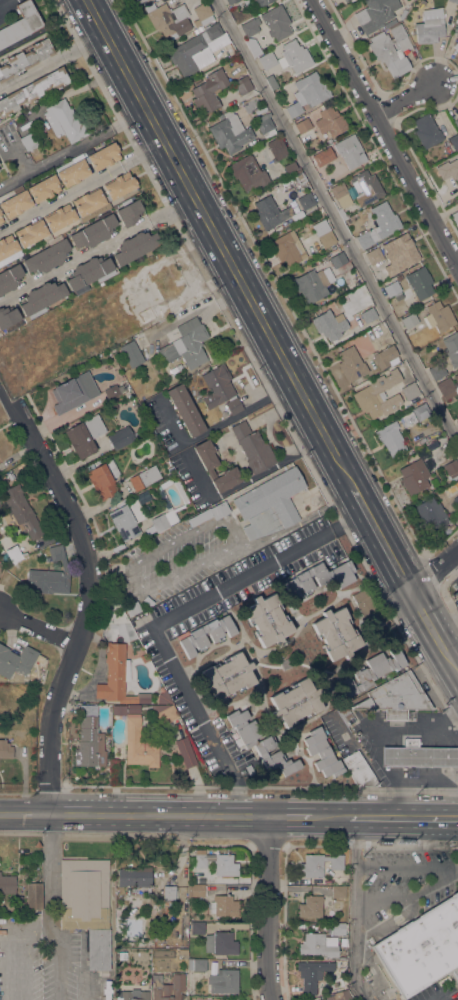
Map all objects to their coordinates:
building: (253, 0)
building: (139, 1)
building: (230, 1)
building: (346, 1)
building: (454, 1)
building: (262, 2)
road: (4, 3)
building: (201, 12)
building: (375, 14)
building: (240, 15)
building: (401, 16)
building: (169, 20)
building: (276, 22)
building: (21, 23)
building: (389, 23)
building: (429, 29)
building: (247, 38)
road: (81, 45)
building: (456, 45)
building: (197, 49)
building: (391, 50)
building: (294, 56)
building: (25, 58)
building: (267, 60)
road: (30, 73)
building: (271, 82)
building: (242, 85)
building: (209, 90)
building: (32, 91)
building: (307, 92)
road: (406, 101)
building: (260, 109)
building: (64, 121)
building: (330, 121)
building: (456, 122)
building: (264, 125)
building: (302, 125)
building: (426, 131)
road: (384, 132)
building: (229, 133)
building: (28, 141)
building: (454, 141)
road: (71, 147)
building: (277, 148)
building: (349, 150)
building: (103, 156)
building: (320, 158)
building: (289, 167)
building: (448, 169)
building: (72, 171)
building: (248, 173)
building: (297, 176)
building: (44, 188)
building: (365, 188)
road: (82, 189)
building: (340, 197)
building: (306, 201)
building: (15, 202)
building: (128, 212)
building: (270, 212)
building: (0, 214)
building: (64, 216)
building: (455, 217)
building: (1, 219)
road: (336, 221)
building: (379, 225)
building: (93, 232)
building: (324, 234)
road: (218, 243)
building: (134, 247)
building: (288, 248)
road: (95, 249)
building: (399, 254)
building: (374, 256)
building: (47, 257)
building: (337, 259)
building: (89, 273)
building: (399, 277)
building: (9, 278)
building: (419, 282)
building: (312, 283)
building: (161, 284)
building: (391, 288)
building: (363, 290)
building: (40, 299)
building: (146, 314)
building: (367, 315)
building: (438, 316)
building: (8, 318)
building: (409, 321)
building: (329, 325)
building: (186, 344)
building: (451, 348)
building: (131, 354)
building: (384, 356)
building: (350, 364)
building: (436, 371)
building: (456, 378)
building: (220, 389)
building: (445, 389)
building: (409, 391)
building: (111, 392)
building: (70, 395)
building: (378, 395)
building: (185, 410)
building: (421, 411)
building: (456, 420)
road: (215, 427)
building: (84, 435)
building: (120, 438)
building: (390, 438)
building: (253, 447)
building: (209, 465)
building: (451, 468)
building: (414, 476)
building: (3, 479)
building: (104, 479)
building: (138, 481)
building: (180, 490)
building: (456, 500)
building: (269, 504)
building: (20, 511)
building: (209, 513)
building: (431, 513)
building: (163, 515)
building: (127, 519)
road: (380, 539)
building: (14, 553)
road: (453, 560)
road: (433, 570)
building: (50, 574)
building: (318, 578)
building: (119, 590)
road: (84, 594)
building: (363, 600)
building: (132, 608)
road: (165, 618)
building: (267, 620)
road: (446, 626)
road: (38, 629)
road: (433, 633)
building: (336, 634)
building: (195, 636)
building: (144, 658)
building: (16, 661)
building: (371, 671)
building: (227, 676)
building: (117, 677)
building: (162, 697)
building: (395, 697)
building: (295, 702)
building: (119, 709)
building: (133, 709)
building: (165, 713)
road: (450, 714)
building: (345, 716)
road: (450, 729)
building: (89, 739)
building: (258, 742)
building: (139, 744)
building: (5, 749)
building: (185, 752)
building: (321, 753)
building: (418, 755)
road: (378, 759)
building: (359, 770)
road: (398, 794)
road: (452, 795)
road: (134, 816)
road: (290, 817)
road: (329, 817)
road: (403, 817)
building: (217, 863)
building: (317, 866)
road: (406, 869)
road: (53, 873)
building: (135, 876)
parking lot: (404, 881)
building: (7, 884)
building: (195, 890)
building: (338, 892)
building: (168, 895)
building: (33, 896)
building: (86, 905)
building: (223, 906)
building: (310, 906)
road: (266, 908)
road: (353, 909)
building: (29, 914)
building: (197, 928)
building: (338, 929)
road: (4, 942)
building: (221, 943)
building: (319, 945)
building: (421, 948)
building: (182, 953)
building: (121, 955)
road: (60, 964)
building: (197, 964)
building: (311, 974)
building: (455, 974)
building: (223, 981)
building: (167, 987)
building: (123, 994)
building: (342, 995)

